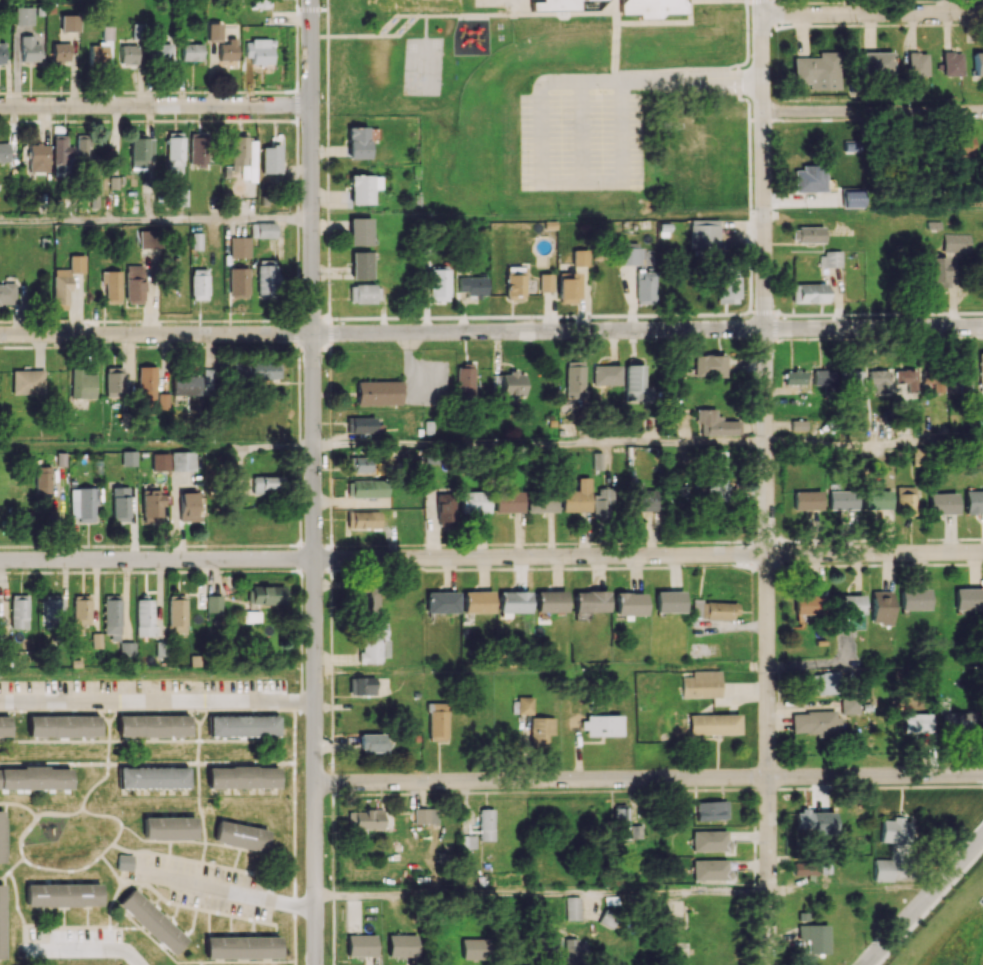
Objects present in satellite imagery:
building: (377, 2)
building: (441, 2)
building: (259, 3)
building: (409, 3)
building: (566, 4)
building: (651, 7)
road: (871, 12)
building: (23, 15)
building: (68, 23)
building: (214, 32)
building: (106, 33)
building: (29, 49)
building: (258, 50)
building: (159, 52)
building: (191, 52)
building: (60, 53)
building: (97, 53)
building: (227, 53)
building: (2, 54)
building: (128, 55)
building: (876, 62)
building: (952, 63)
building: (978, 63)
building: (917, 64)
building: (816, 71)
road: (655, 74)
road: (155, 105)
road: (873, 110)
building: (357, 142)
building: (197, 149)
building: (238, 150)
building: (4, 152)
building: (141, 152)
building: (174, 152)
building: (83, 154)
building: (38, 157)
building: (61, 158)
building: (270, 159)
building: (810, 178)
building: (362, 189)
building: (180, 197)
building: (852, 199)
road: (156, 220)
building: (262, 230)
building: (359, 231)
building: (705, 233)
building: (807, 234)
building: (145, 238)
building: (196, 240)
building: (957, 242)
building: (239, 247)
building: (632, 254)
building: (580, 257)
building: (831, 259)
building: (360, 265)
building: (937, 270)
building: (266, 279)
building: (65, 281)
building: (238, 282)
building: (514, 282)
building: (545, 282)
building: (111, 284)
building: (134, 284)
building: (199, 284)
building: (439, 284)
building: (728, 285)
building: (473, 286)
building: (567, 287)
building: (645, 287)
building: (364, 293)
building: (809, 293)
building: (6, 294)
road: (491, 331)
road: (765, 333)
building: (709, 365)
building: (981, 368)
building: (263, 370)
building: (606, 374)
building: (794, 377)
building: (821, 378)
building: (907, 378)
building: (465, 380)
building: (575, 380)
building: (28, 381)
building: (114, 381)
building: (851, 381)
building: (878, 381)
building: (961, 381)
building: (634, 383)
building: (933, 383)
building: (82, 384)
building: (512, 384)
building: (146, 385)
building: (185, 385)
building: (378, 392)
building: (162, 401)
building: (715, 423)
building: (362, 425)
building: (797, 425)
road: (856, 442)
road: (540, 445)
road: (157, 447)
building: (917, 456)
building: (129, 458)
building: (182, 460)
building: (160, 461)
building: (359, 464)
building: (43, 479)
road: (314, 482)
building: (266, 484)
building: (366, 488)
building: (715, 489)
building: (576, 497)
building: (642, 498)
building: (876, 499)
building: (906, 499)
building: (806, 500)
building: (841, 500)
building: (508, 501)
building: (974, 501)
building: (474, 502)
building: (85, 503)
building: (120, 503)
building: (541, 503)
building: (943, 503)
building: (601, 504)
building: (151, 506)
building: (190, 506)
building: (445, 507)
building: (363, 519)
road: (648, 554)
road: (157, 558)
building: (266, 594)
building: (968, 598)
building: (914, 599)
building: (366, 601)
building: (477, 601)
building: (514, 601)
building: (551, 601)
building: (591, 601)
building: (668, 601)
building: (442, 602)
building: (629, 603)
building: (213, 604)
building: (807, 604)
building: (849, 604)
building: (882, 607)
building: (713, 609)
building: (19, 611)
building: (81, 613)
building: (177, 613)
building: (112, 616)
building: (144, 617)
building: (96, 640)
building: (373, 643)
building: (126, 651)
road: (815, 666)
building: (821, 683)
building: (701, 684)
building: (361, 685)
road: (157, 697)
building: (524, 705)
building: (849, 705)
building: (437, 721)
building: (957, 721)
building: (815, 722)
building: (916, 722)
building: (714, 724)
building: (62, 725)
building: (152, 725)
building: (242, 725)
building: (601, 725)
building: (4, 726)
building: (540, 730)
building: (371, 742)
building: (153, 777)
building: (242, 777)
building: (34, 778)
road: (649, 778)
building: (711, 810)
building: (421, 815)
road: (769, 815)
building: (364, 819)
building: (816, 821)
building: (620, 822)
building: (486, 824)
building: (169, 828)
building: (895, 830)
building: (635, 831)
building: (1, 835)
building: (240, 836)
building: (709, 840)
building: (467, 841)
building: (124, 862)
building: (805, 868)
building: (710, 869)
building: (886, 869)
road: (228, 888)
road: (851, 889)
building: (63, 894)
road: (542, 894)
road: (922, 899)
building: (572, 908)
building: (151, 921)
building: (1, 923)
building: (813, 937)
road: (87, 945)
building: (361, 945)
building: (402, 945)
building: (242, 947)
building: (474, 948)
building: (574, 951)

